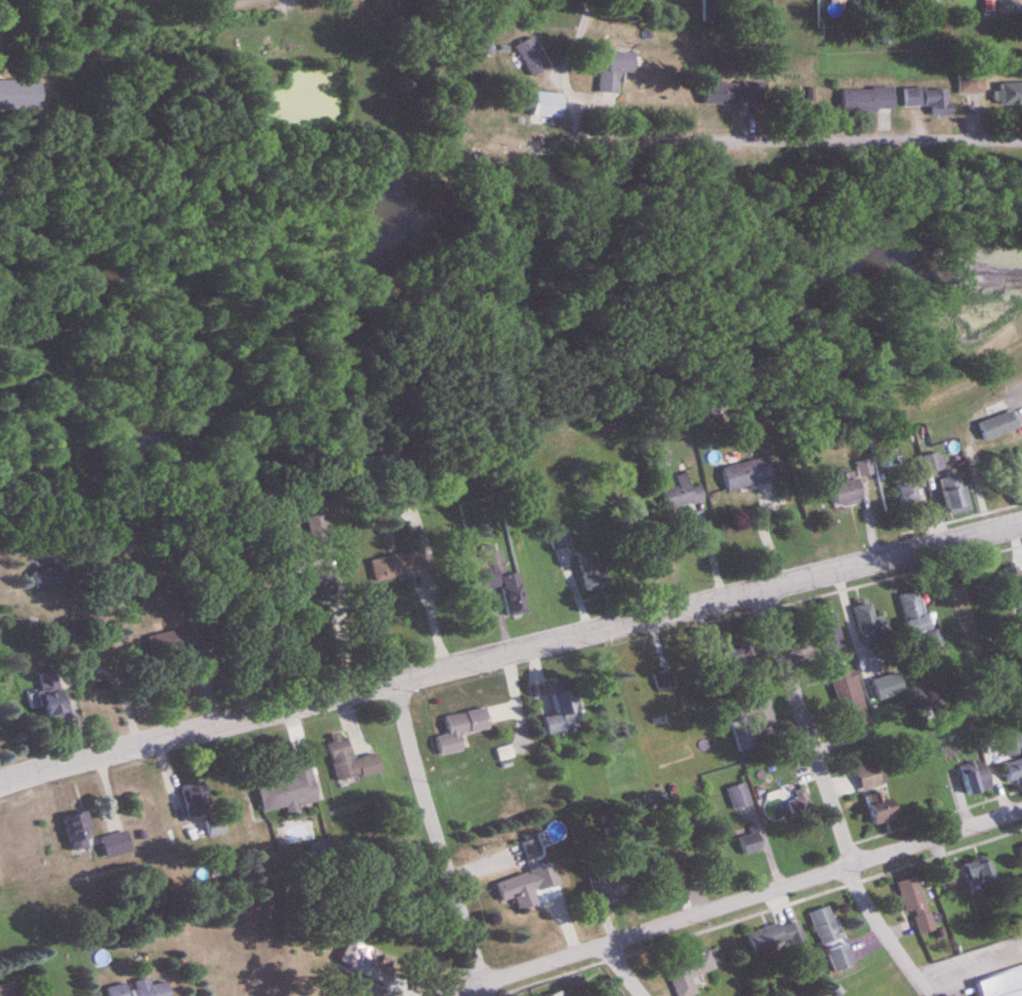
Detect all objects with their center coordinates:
building: (242, 0)
road: (0, 1)
building: (532, 57)
building: (615, 72)
road: (562, 79)
building: (970, 84)
building: (732, 94)
building: (1009, 94)
building: (867, 100)
building: (928, 100)
building: (547, 105)
road: (795, 139)
river: (380, 238)
building: (998, 426)
building: (931, 464)
building: (864, 469)
building: (747, 475)
building: (952, 492)
building: (683, 494)
building: (847, 494)
building: (908, 494)
building: (319, 532)
building: (399, 565)
building: (52, 577)
building: (499, 578)
building: (598, 578)
building: (915, 613)
road: (417, 620)
building: (868, 620)
building: (825, 633)
building: (936, 639)
building: (173, 643)
road: (510, 652)
building: (738, 653)
building: (665, 680)
building: (888, 687)
building: (51, 697)
building: (850, 701)
building: (565, 714)
building: (752, 723)
building: (470, 726)
building: (1012, 744)
building: (506, 753)
building: (351, 761)
building: (1014, 770)
building: (976, 778)
building: (292, 789)
building: (876, 791)
building: (740, 798)
road: (831, 799)
building: (197, 800)
building: (797, 805)
building: (79, 833)
road: (436, 839)
building: (751, 843)
building: (116, 845)
building: (980, 873)
building: (612, 885)
building: (527, 886)
road: (732, 903)
building: (915, 903)
building: (826, 926)
building: (773, 936)
building: (841, 958)
building: (366, 962)
road: (623, 971)
building: (691, 972)
building: (1002, 984)
building: (149, 988)
building: (9, 990)
building: (118, 990)
building: (558, 994)

